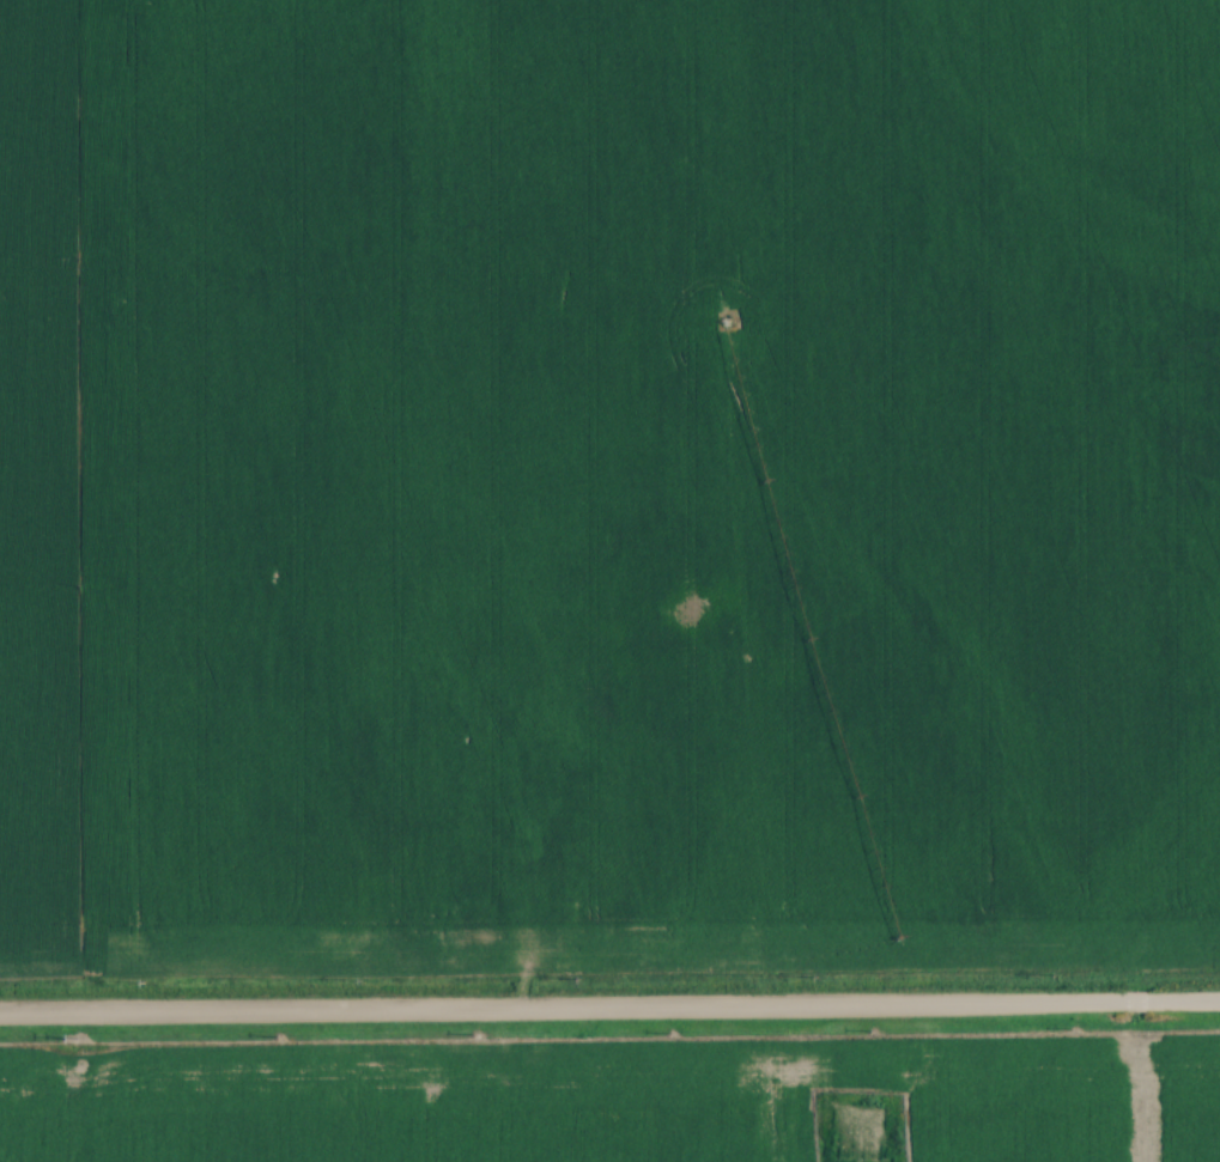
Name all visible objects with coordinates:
road: (609, 1004)

